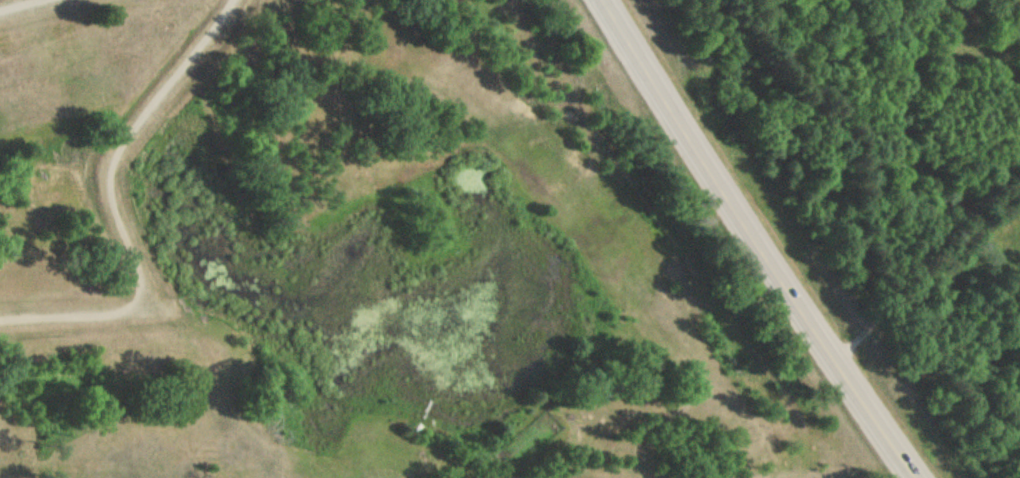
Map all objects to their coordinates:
road: (18, 4)
park: (82, 68)
road: (114, 207)
road: (759, 241)
park: (234, 446)

